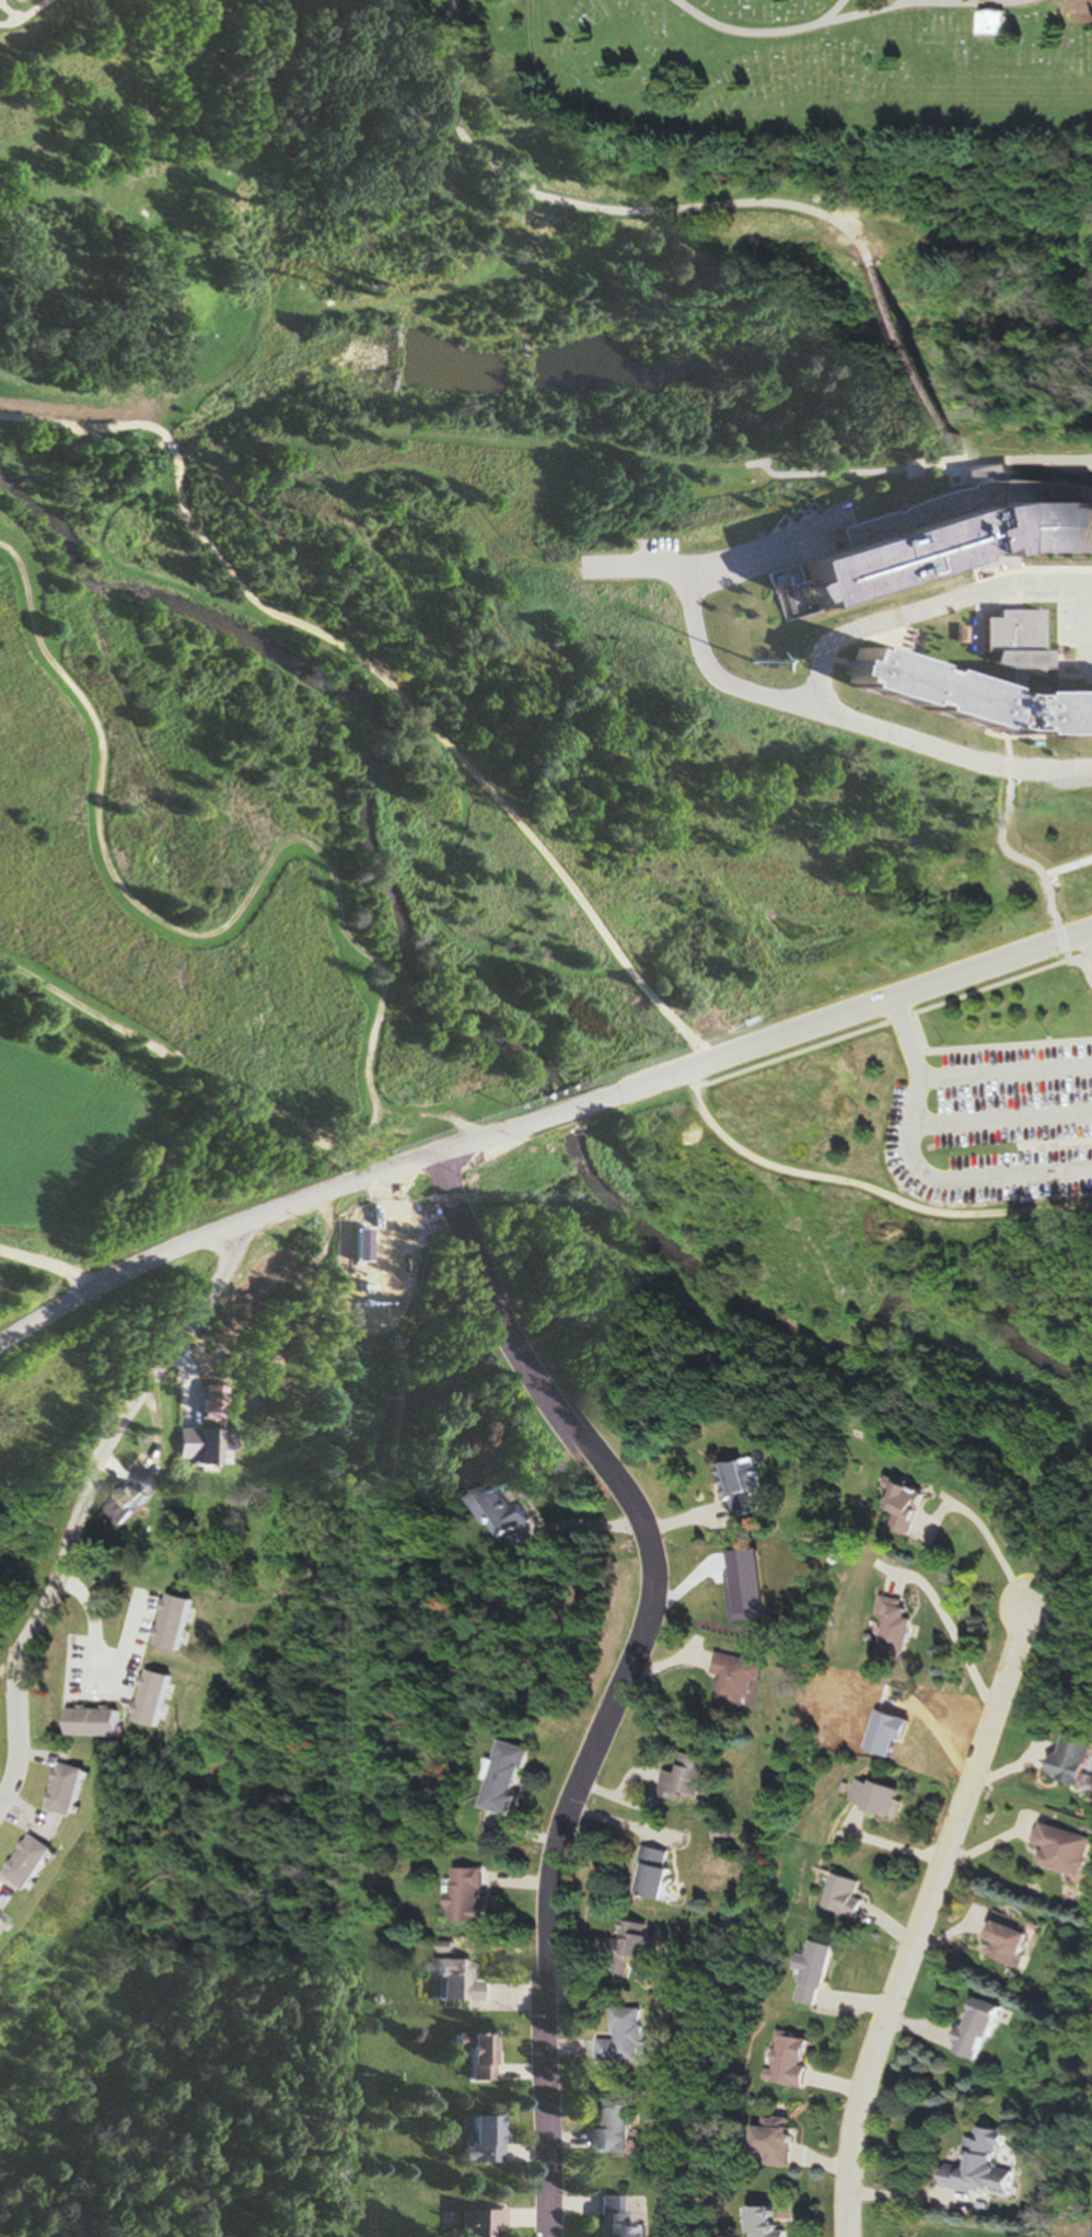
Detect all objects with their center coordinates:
building: (23, 0)
road: (920, 0)
building: (16, 1)
road: (834, 11)
road: (7, 12)
road: (23, 14)
road: (851, 16)
building: (1002, 23)
park: (829, 56)
road: (594, 208)
road: (964, 234)
road: (917, 346)
road: (923, 437)
road: (574, 456)
road: (1014, 467)
building: (934, 535)
road: (709, 565)
road: (1022, 570)
road: (1015, 596)
road: (1083, 626)
parking lot: (1076, 627)
road: (836, 660)
road: (1062, 665)
road: (376, 675)
road: (814, 675)
road: (710, 679)
building: (981, 681)
road: (1010, 737)
road: (1006, 760)
road: (333, 895)
park: (420, 908)
road: (1064, 934)
road: (1088, 963)
road: (832, 1018)
road: (893, 1020)
road: (988, 1047)
road: (1006, 1073)
road: (560, 1111)
road: (1002, 1117)
road: (430, 1118)
parking lot: (995, 1124)
road: (1041, 1145)
road: (916, 1168)
road: (867, 1185)
road: (267, 1210)
building: (363, 1240)
road: (48, 1264)
building: (253, 1351)
road: (111, 1435)
building: (205, 1446)
building: (742, 1485)
building: (129, 1497)
building: (909, 1505)
building: (501, 1511)
building: (897, 1629)
road: (620, 1669)
building: (740, 1681)
building: (199, 1699)
road: (13, 1715)
building: (1076, 1759)
building: (504, 1777)
building: (692, 1777)
building: (67, 1789)
building: (875, 1797)
building: (1069, 1850)
building: (30, 1862)
building: (658, 1874)
building: (467, 1893)
building: (844, 1896)
road: (920, 1919)
building: (2, 1923)
building: (1015, 1940)
building: (634, 1947)
building: (811, 1971)
building: (458, 1981)
building: (984, 2027)
building: (623, 2037)
building: (480, 2054)
building: (790, 2060)
building: (614, 2133)
building: (484, 2140)
building: (779, 2141)
building: (987, 2165)
building: (614, 2216)
building: (481, 2222)
building: (771, 2223)

